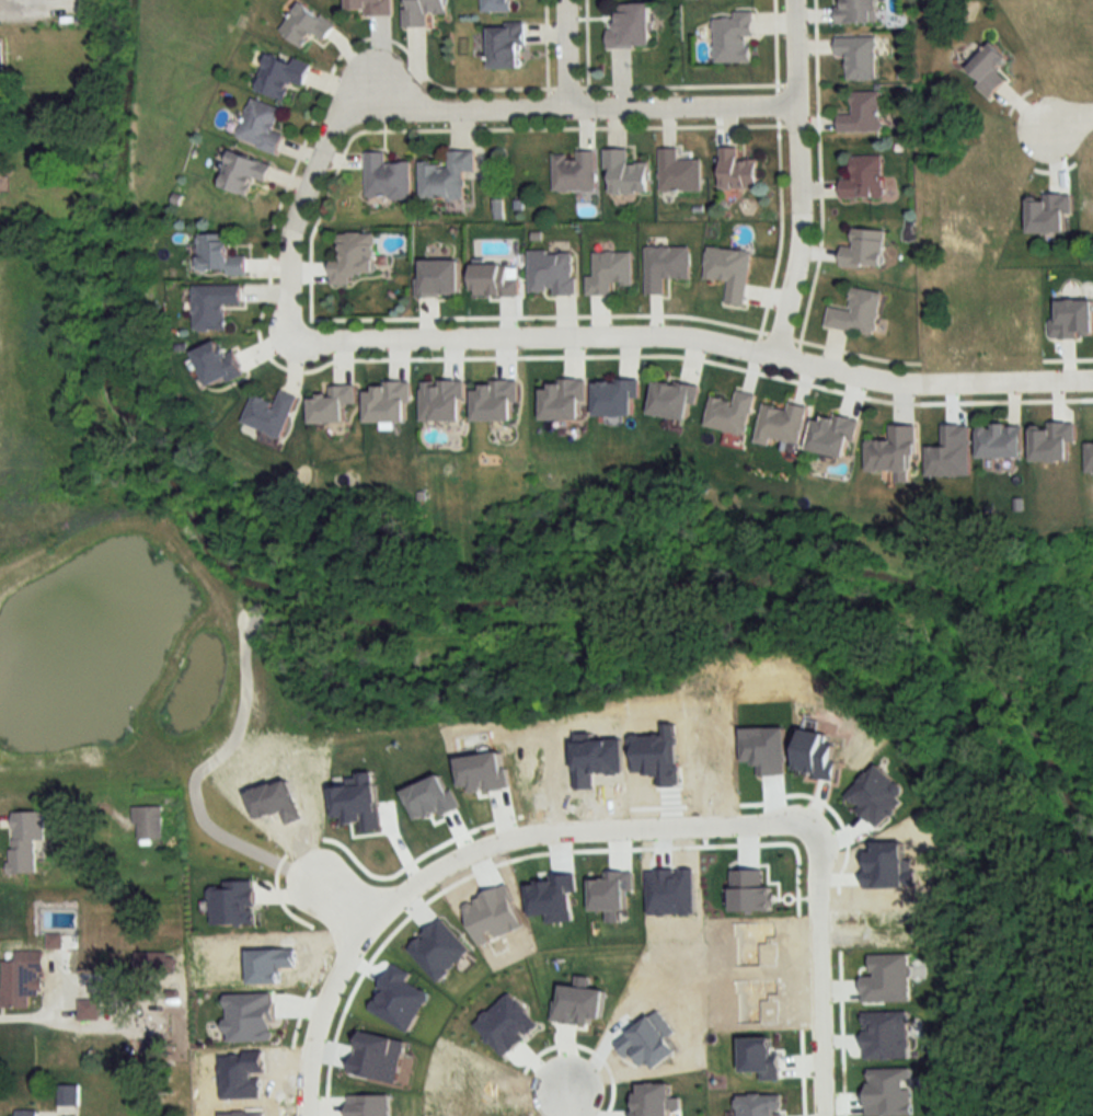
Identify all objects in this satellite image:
building: (497, 5)
building: (370, 7)
building: (423, 11)
building: (856, 12)
building: (307, 25)
building: (632, 26)
building: (734, 37)
building: (508, 46)
road: (567, 54)
building: (858, 57)
building: (989, 69)
building: (284, 76)
road: (567, 108)
building: (862, 114)
road: (1069, 119)
building: (263, 126)
building: (737, 171)
building: (574, 172)
building: (679, 172)
building: (245, 173)
building: (626, 173)
road: (802, 175)
building: (447, 176)
building: (387, 179)
building: (863, 179)
road: (296, 226)
building: (864, 250)
building: (222, 256)
building: (355, 258)
building: (665, 267)
building: (609, 273)
building: (728, 273)
building: (439, 279)
building: (494, 281)
building: (217, 306)
building: (855, 313)
road: (698, 333)
building: (219, 364)
building: (614, 398)
building: (495, 400)
building: (564, 400)
building: (674, 400)
building: (441, 401)
building: (388, 403)
building: (334, 404)
building: (273, 413)
building: (730, 413)
building: (781, 424)
building: (832, 435)
building: (1000, 441)
building: (893, 451)
building: (147, 824)
building: (25, 841)
road: (476, 850)
road: (341, 899)
building: (159, 964)
road: (820, 971)
building: (22, 979)
building: (89, 1010)
building: (68, 1095)
road: (569, 1101)
building: (26, 1113)

